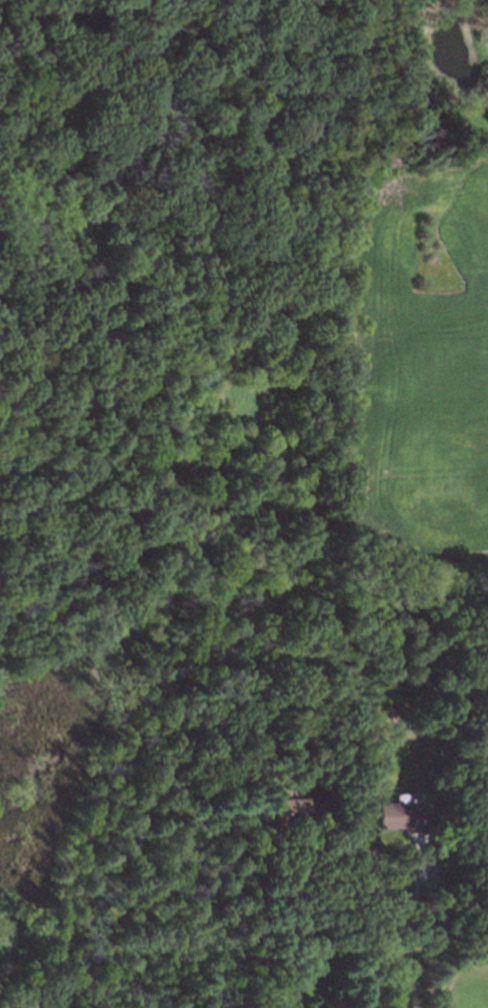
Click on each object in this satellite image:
road: (148, 234)
park: (184, 271)
building: (297, 810)
building: (396, 816)
building: (435, 817)
road: (307, 919)
road: (409, 930)

